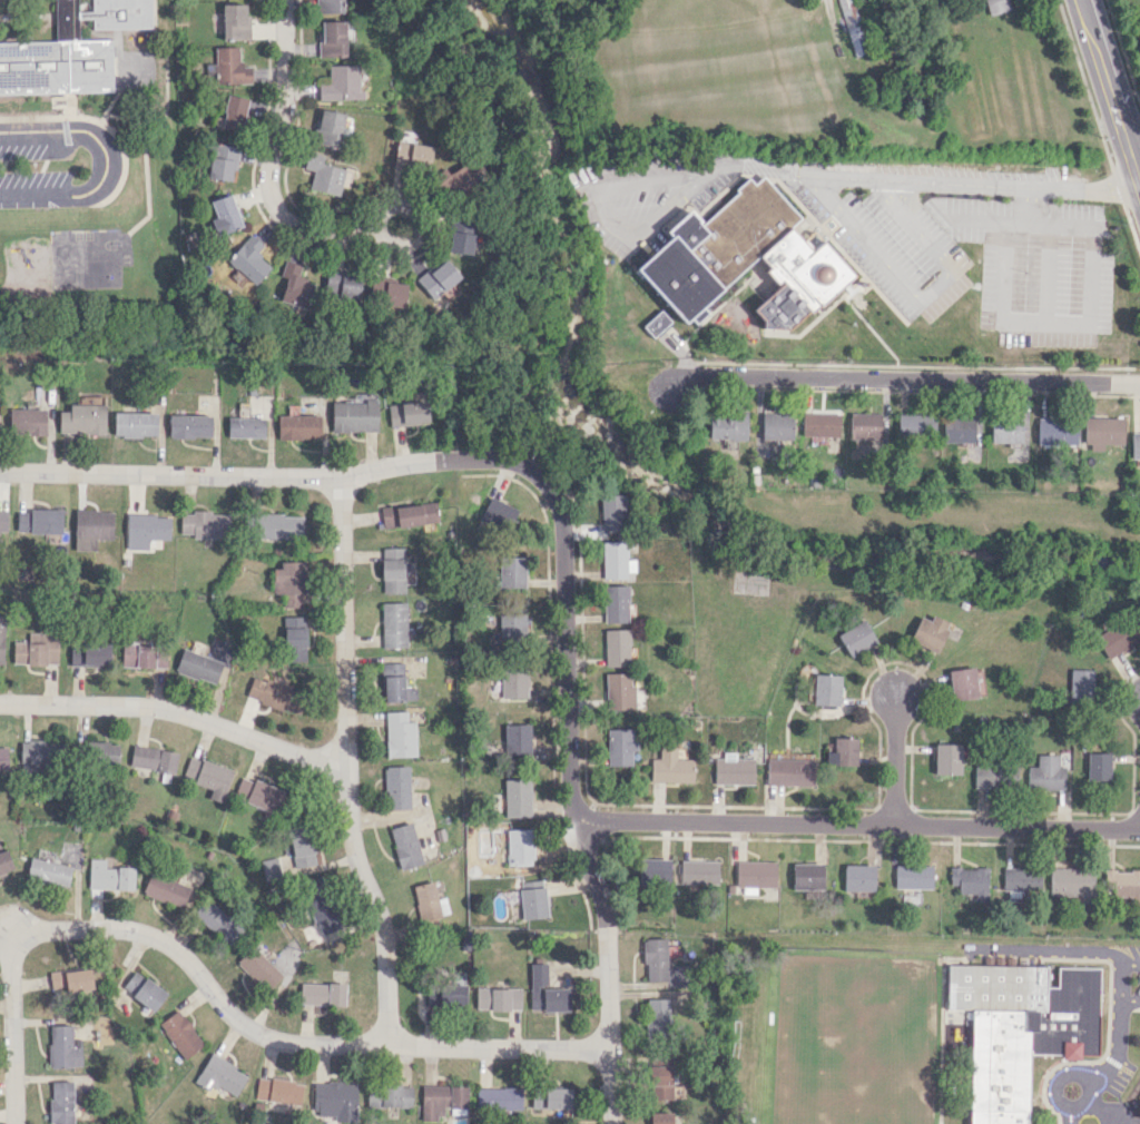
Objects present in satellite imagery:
building: (328, 6)
building: (995, 6)
building: (235, 21)
building: (854, 26)
building: (331, 38)
park: (1127, 42)
building: (69, 49)
building: (229, 66)
building: (340, 82)
road: (1112, 91)
building: (234, 112)
building: (327, 127)
building: (344, 131)
building: (411, 156)
road: (271, 159)
building: (222, 160)
road: (105, 161)
building: (326, 175)
building: (458, 179)
road: (930, 180)
road: (1031, 204)
road: (605, 209)
building: (225, 214)
road: (1025, 220)
road: (414, 227)
building: (459, 234)
building: (746, 258)
building: (248, 259)
road: (1048, 273)
building: (436, 278)
building: (862, 283)
building: (294, 285)
building: (342, 286)
building: (377, 289)
building: (394, 293)
road: (918, 294)
building: (657, 323)
road: (1045, 324)
road: (913, 376)
road: (676, 402)
building: (406, 413)
building: (353, 416)
building: (81, 420)
building: (26, 421)
building: (134, 424)
building: (822, 424)
building: (915, 424)
building: (188, 425)
building: (777, 425)
building: (864, 425)
building: (297, 426)
building: (728, 426)
building: (245, 427)
building: (957, 430)
building: (1005, 430)
building: (1057, 431)
building: (1103, 432)
building: (1134, 445)
road: (262, 475)
building: (612, 513)
building: (407, 514)
building: (494, 515)
building: (2, 520)
building: (40, 522)
building: (204, 524)
building: (273, 525)
building: (90, 528)
building: (145, 529)
building: (615, 560)
building: (391, 570)
building: (510, 573)
building: (288, 583)
building: (613, 603)
building: (393, 623)
building: (511, 627)
building: (928, 631)
building: (856, 637)
building: (1, 638)
building: (294, 639)
building: (1114, 639)
building: (615, 647)
building: (36, 649)
building: (89, 653)
building: (142, 655)
building: (198, 665)
building: (1080, 682)
building: (395, 683)
building: (512, 683)
building: (962, 683)
building: (826, 689)
building: (618, 690)
building: (275, 694)
road: (177, 713)
building: (399, 734)
building: (515, 739)
building: (619, 746)
building: (842, 751)
building: (101, 752)
building: (36, 755)
building: (2, 758)
building: (153, 758)
building: (946, 759)
road: (892, 762)
road: (346, 765)
building: (1097, 765)
building: (670, 767)
building: (731, 769)
building: (788, 771)
building: (1045, 773)
building: (208, 776)
building: (994, 776)
building: (395, 787)
road: (569, 790)
building: (257, 793)
building: (517, 797)
road: (856, 826)
building: (299, 844)
building: (404, 846)
building: (519, 847)
building: (46, 855)
building: (4, 861)
building: (273, 866)
building: (48, 871)
building: (653, 871)
building: (699, 871)
building: (754, 875)
building: (109, 876)
building: (807, 876)
building: (912, 876)
building: (858, 877)
building: (970, 880)
building: (1072, 883)
building: (1122, 884)
building: (730, 888)
building: (165, 889)
building: (429, 903)
building: (532, 903)
building: (318, 905)
road: (14, 917)
building: (216, 921)
road: (1057, 947)
road: (6, 953)
building: (655, 959)
building: (258, 968)
building: (69, 979)
road: (1117, 983)
building: (142, 989)
building: (544, 990)
building: (322, 994)
building: (444, 996)
building: (498, 998)
building: (653, 1015)
building: (1019, 1028)
building: (179, 1033)
road: (14, 1035)
park: (854, 1041)
road: (285, 1043)
building: (61, 1047)
road: (1107, 1064)
building: (222, 1075)
road: (1059, 1076)
building: (659, 1082)
building: (278, 1090)
building: (389, 1095)
building: (498, 1097)
building: (550, 1097)
building: (334, 1100)
building: (441, 1100)
building: (60, 1102)
building: (1139, 1112)
building: (659, 1117)

